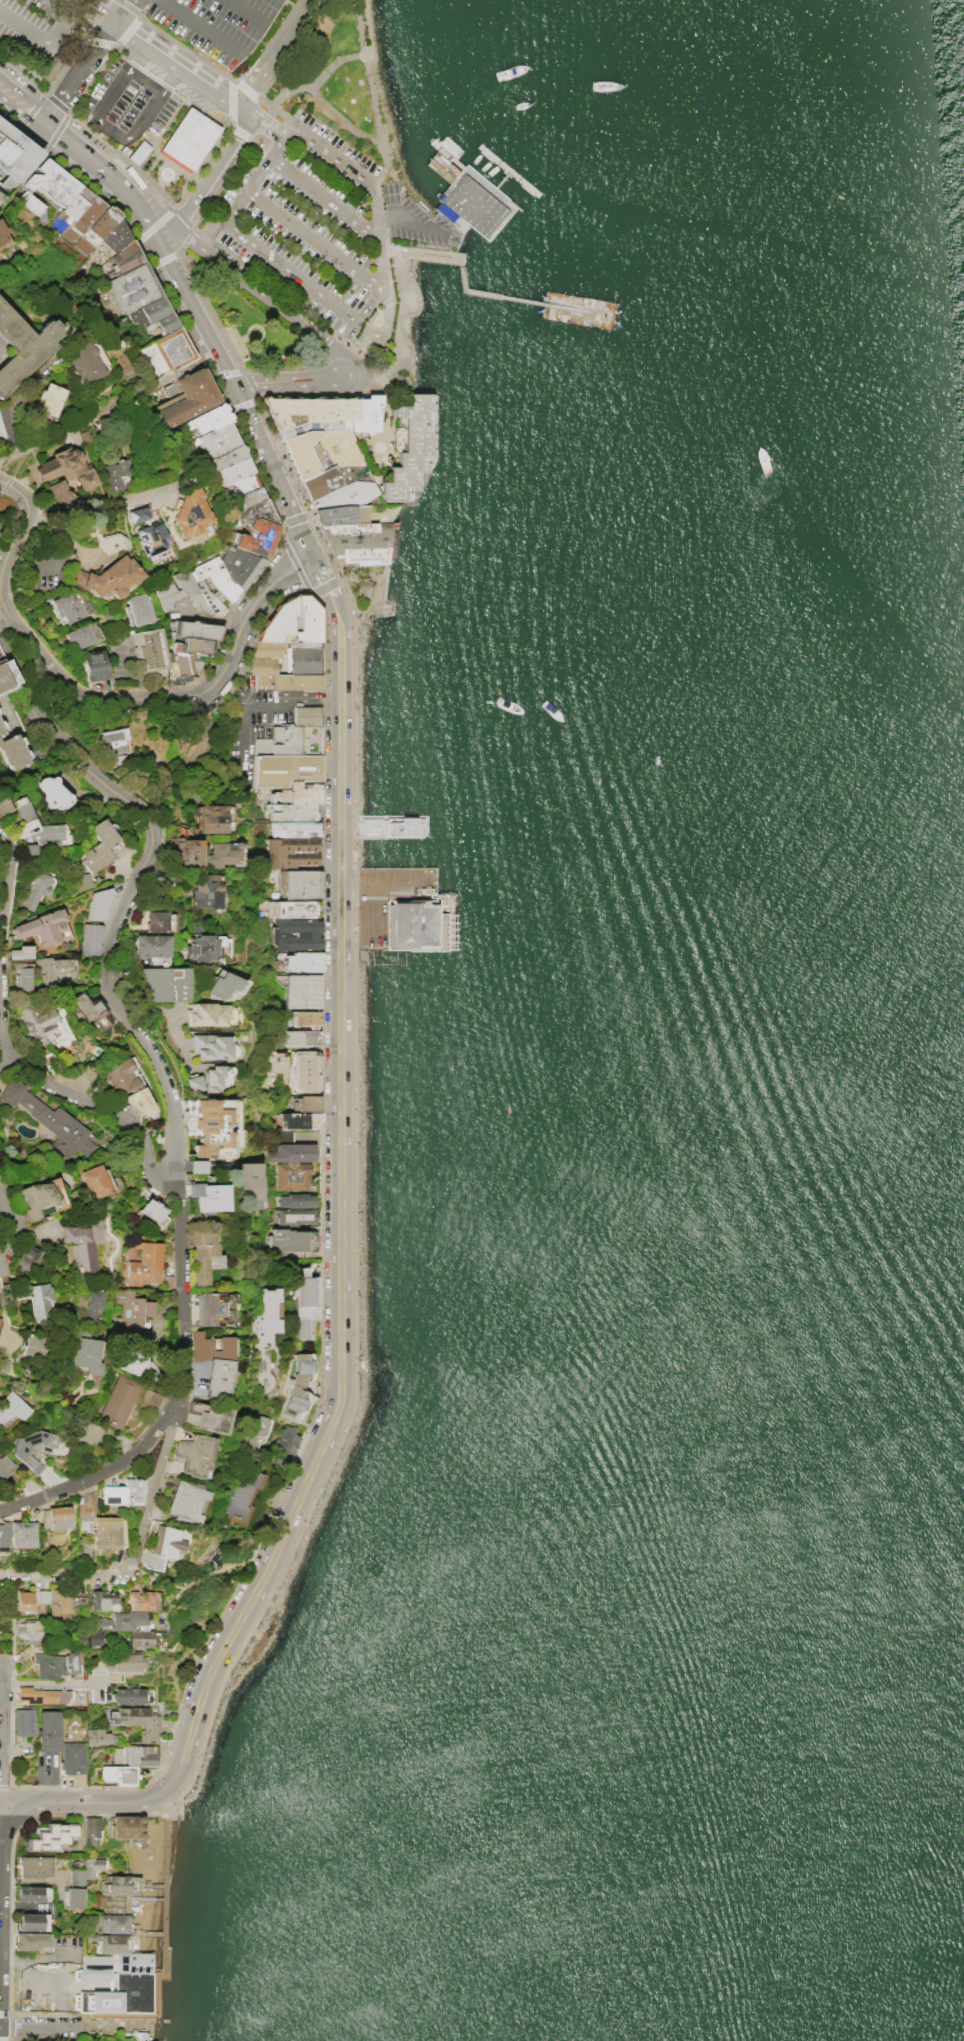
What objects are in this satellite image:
road: (133, 3)
road: (63, 4)
road: (243, 11)
road: (120, 14)
road: (89, 17)
parking lot: (219, 24)
parking lot: (39, 25)
road: (201, 26)
road: (361, 28)
road: (41, 41)
road: (269, 51)
road: (133, 57)
road: (86, 60)
road: (177, 64)
building: (49, 67)
road: (167, 79)
park: (341, 81)
road: (286, 92)
road: (253, 95)
railway: (143, 98)
road: (264, 100)
road: (21, 104)
parking lot: (126, 105)
road: (53, 110)
road: (258, 114)
road: (263, 121)
road: (343, 121)
road: (256, 122)
traffic signals: (44, 123)
road: (377, 129)
road: (104, 130)
road: (257, 133)
road: (245, 135)
building: (191, 139)
road: (276, 145)
building: (15, 150)
building: (137, 152)
road: (343, 163)
road: (258, 174)
road: (109, 176)
road: (208, 180)
building: (47, 185)
road: (322, 195)
pier: (472, 204)
building: (71, 207)
building: (474, 207)
road: (402, 217)
building: (82, 219)
parking lot: (308, 222)
road: (188, 223)
building: (1, 229)
building: (95, 229)
road: (192, 231)
building: (114, 235)
building: (1, 238)
road: (186, 238)
road: (311, 240)
railway: (375, 247)
building: (125, 256)
road: (435, 256)
road: (165, 258)
road: (237, 262)
road: (379, 262)
road: (287, 271)
pier: (462, 276)
building: (132, 288)
road: (470, 290)
road: (260, 294)
road: (521, 300)
road: (570, 308)
pier: (577, 309)
road: (597, 312)
road: (177, 314)
road: (194, 314)
building: (153, 315)
park: (249, 320)
fountain: (253, 331)
road: (331, 333)
road: (399, 335)
road: (324, 341)
road: (228, 343)
building: (26, 346)
building: (164, 353)
building: (84, 361)
road: (200, 363)
road: (226, 373)
road: (291, 379)
road: (251, 382)
building: (48, 398)
building: (189, 398)
road: (242, 405)
building: (308, 410)
road: (203, 411)
road: (384, 413)
building: (366, 414)
building: (209, 418)
road: (78, 423)
building: (313, 427)
building: (1, 431)
building: (219, 439)
building: (409, 448)
building: (319, 450)
building: (227, 457)
road: (17, 464)
building: (67, 467)
road: (177, 468)
road: (272, 469)
building: (233, 470)
building: (115, 474)
building: (320, 482)
building: (242, 484)
road: (5, 485)
building: (57, 491)
building: (346, 494)
building: (251, 496)
road: (103, 507)
building: (256, 511)
building: (189, 513)
building: (341, 514)
road: (295, 519)
building: (147, 532)
building: (257, 537)
building: (357, 541)
traffic signals: (313, 556)
building: (239, 565)
building: (107, 577)
road: (303, 579)
building: (214, 584)
building: (187, 589)
park: (370, 591)
building: (69, 605)
building: (138, 609)
road: (207, 618)
building: (307, 619)
building: (277, 621)
building: (195, 629)
building: (82, 634)
building: (302, 645)
building: (265, 649)
building: (149, 650)
building: (187, 652)
building: (303, 661)
building: (94, 665)
building: (261, 665)
building: (4, 678)
road: (185, 682)
building: (287, 682)
road: (209, 685)
road: (245, 696)
road: (328, 696)
building: (306, 715)
parking lot: (256, 722)
building: (113, 740)
building: (289, 740)
building: (12, 750)
building: (284, 769)
building: (52, 792)
building: (294, 801)
building: (291, 805)
road: (134, 806)
building: (16, 808)
building: (214, 818)
building: (392, 825)
pier: (391, 826)
building: (295, 829)
building: (44, 837)
building: (99, 846)
building: (290, 852)
building: (185, 853)
building: (222, 854)
building: (299, 884)
building: (35, 888)
building: (205, 893)
building: (97, 904)
road: (3, 906)
building: (290, 909)
pier: (402, 910)
building: (158, 921)
building: (409, 924)
building: (41, 926)
building: (295, 934)
building: (90, 939)
building: (150, 946)
building: (203, 947)
building: (20, 952)
building: (303, 961)
building: (52, 968)
building: (22, 977)
building: (164, 983)
building: (223, 985)
building: (301, 990)
building: (90, 1009)
building: (206, 1013)
building: (305, 1017)
building: (37, 1022)
building: (302, 1037)
building: (211, 1046)
building: (272, 1062)
building: (305, 1071)
building: (119, 1076)
building: (215, 1077)
building: (194, 1083)
road: (102, 1094)
building: (140, 1101)
building: (306, 1103)
building: (208, 1115)
building: (298, 1119)
building: (49, 1120)
building: (209, 1145)
building: (292, 1149)
building: (197, 1166)
building: (292, 1176)
building: (94, 1181)
building: (251, 1183)
building: (208, 1196)
building: (35, 1197)
road: (339, 1197)
building: (297, 1200)
building: (150, 1209)
building: (296, 1216)
road: (9, 1239)
building: (286, 1241)
road: (321, 1242)
building: (81, 1245)
road: (354, 1251)
building: (202, 1256)
building: (27, 1257)
building: (143, 1263)
building: (304, 1300)
building: (38, 1301)
building: (93, 1305)
building: (225, 1312)
building: (133, 1314)
building: (0, 1315)
building: (264, 1315)
building: (34, 1341)
building: (86, 1354)
building: (135, 1359)
building: (213, 1363)
building: (297, 1384)
road: (174, 1396)
building: (129, 1405)
building: (12, 1406)
building: (213, 1418)
building: (254, 1427)
building: (88, 1432)
building: (287, 1439)
building: (19, 1452)
building: (194, 1454)
building: (4, 1465)
road: (153, 1486)
building: (121, 1491)
building: (239, 1493)
building: (184, 1500)
building: (52, 1516)
building: (105, 1531)
building: (16, 1533)
building: (165, 1541)
road: (251, 1553)
road: (131, 1564)
road: (59, 1574)
road: (203, 1576)
road: (158, 1580)
road: (175, 1596)
building: (101, 1598)
building: (52, 1600)
building: (140, 1600)
building: (26, 1602)
building: (123, 1620)
road: (3, 1624)
park: (192, 1626)
building: (27, 1630)
building: (93, 1637)
building: (138, 1639)
building: (123, 1662)
building: (54, 1664)
road: (51, 1683)
building: (40, 1695)
building: (128, 1695)
building: (137, 1720)
building: (23, 1721)
road: (2, 1730)
building: (47, 1731)
building: (98, 1736)
building: (133, 1755)
building: (71, 1757)
building: (118, 1774)
road: (6, 1786)
road: (0, 1798)
road: (76, 1800)
building: (91, 1826)
building: (125, 1826)
building: (49, 1836)
building: (33, 1865)
building: (91, 1866)
road: (0, 1868)
building: (76, 1876)
building: (118, 1884)
building: (27, 1893)
building: (74, 1897)
building: (113, 1903)
building: (31, 1921)
building: (112, 1923)
building: (31, 1940)
building: (112, 1943)
road: (164, 1955)
building: (132, 1963)
road: (65, 1989)
building: (118, 1995)
road: (71, 2027)

